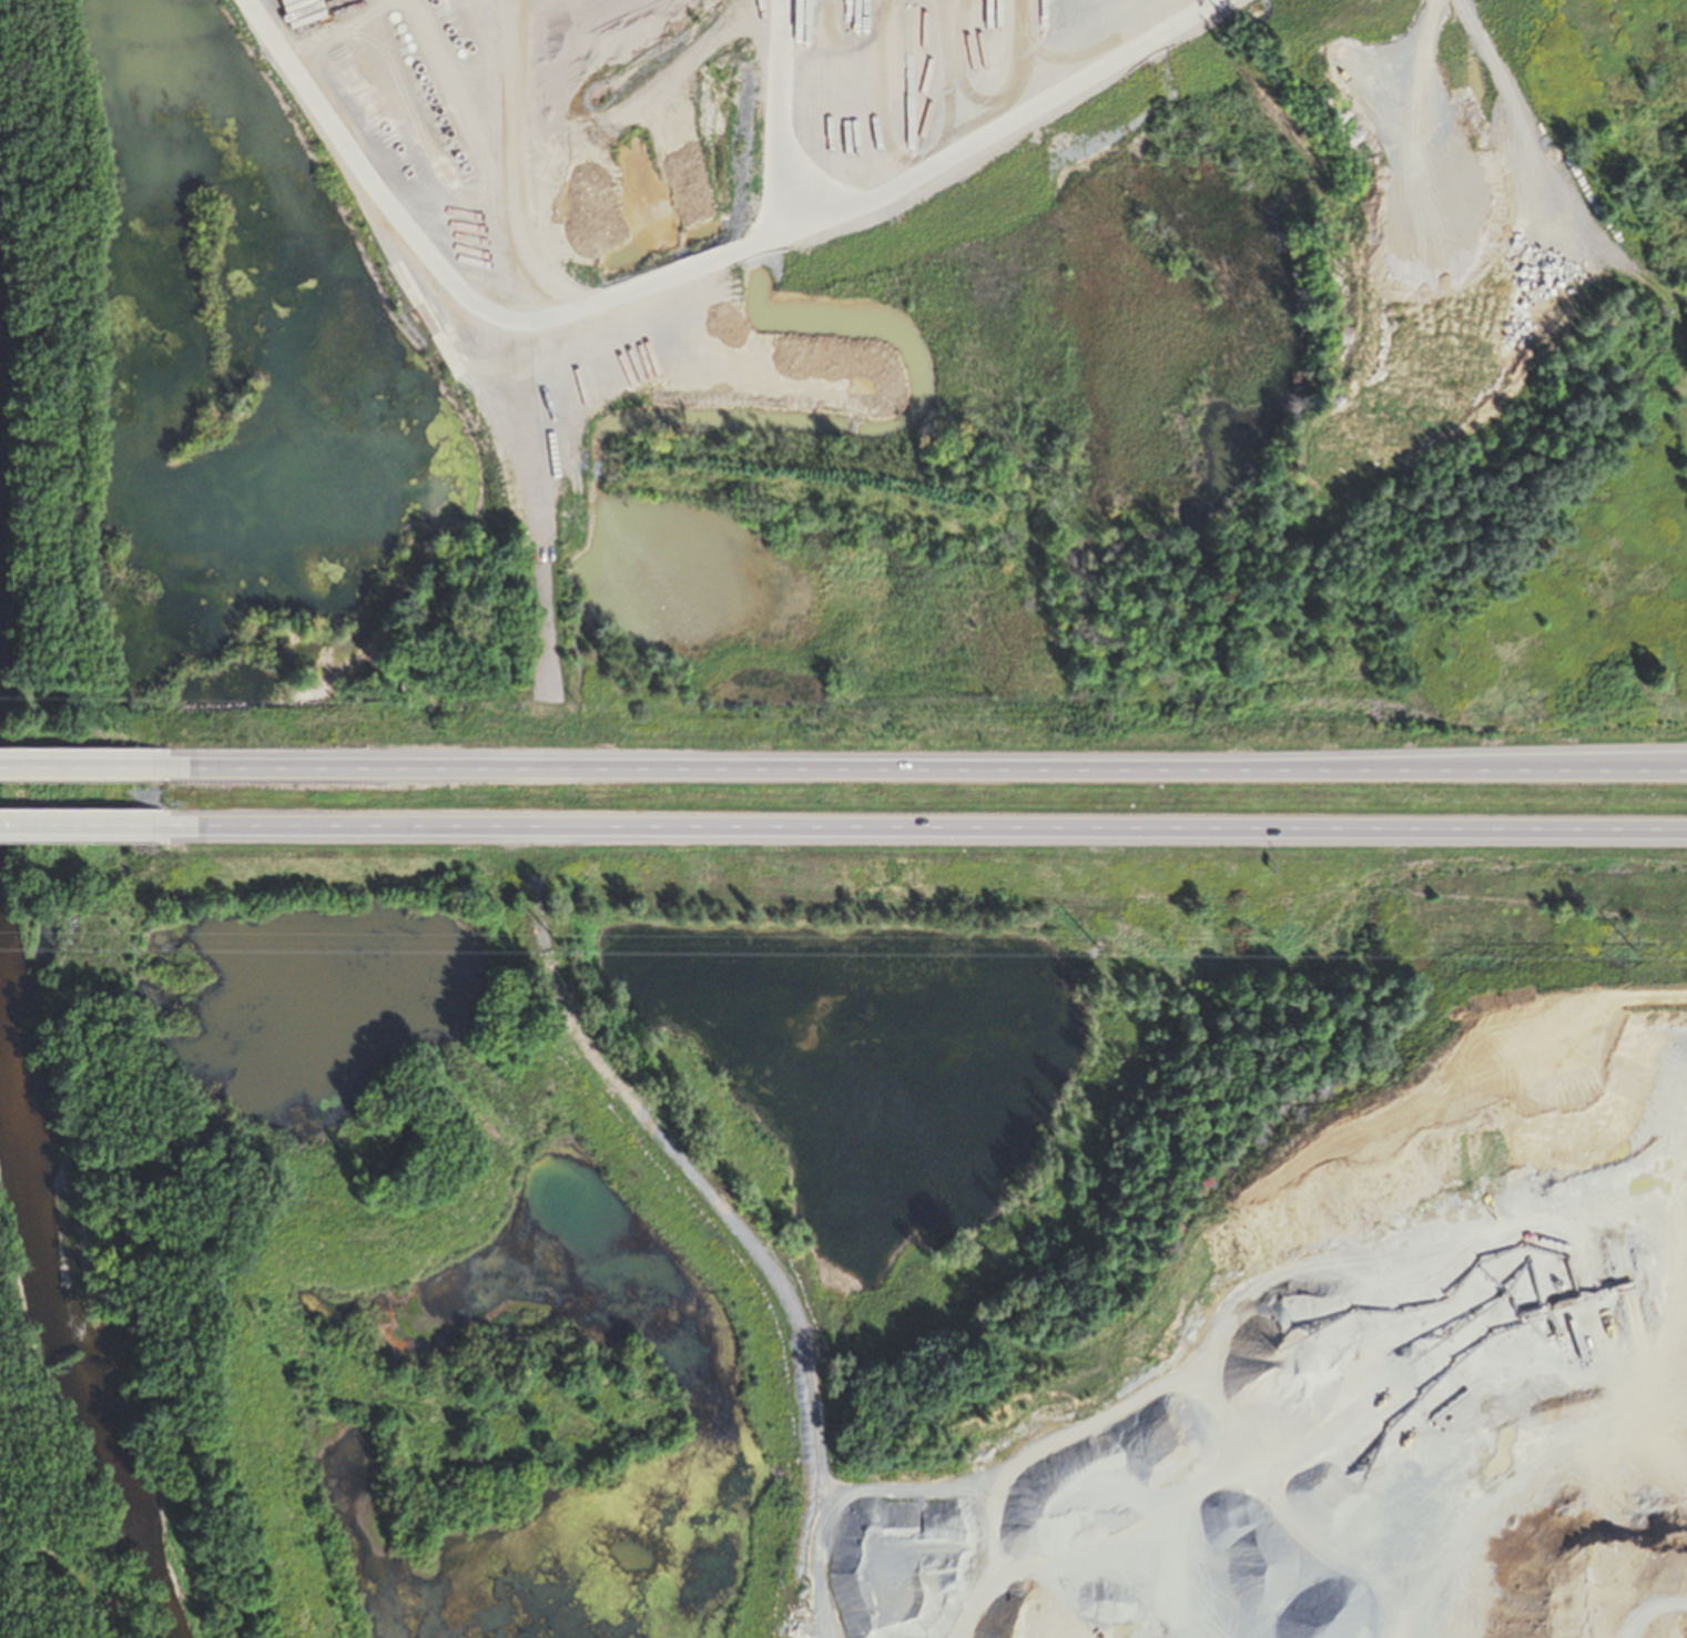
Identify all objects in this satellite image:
building: (1360, 6)
road: (778, 113)
road: (369, 174)
road: (876, 199)
quarry: (19, 324)
quarry: (877, 346)
quarry: (75, 670)
road: (538, 686)
road: (85, 765)
road: (354, 765)
road: (1111, 767)
road: (80, 826)
building: (91, 827)
road: (346, 830)
road: (1109, 834)
power tower: (1095, 942)
power tower: (557, 943)
power tower: (1632, 944)
quarry: (895, 1273)
river: (37, 1325)

